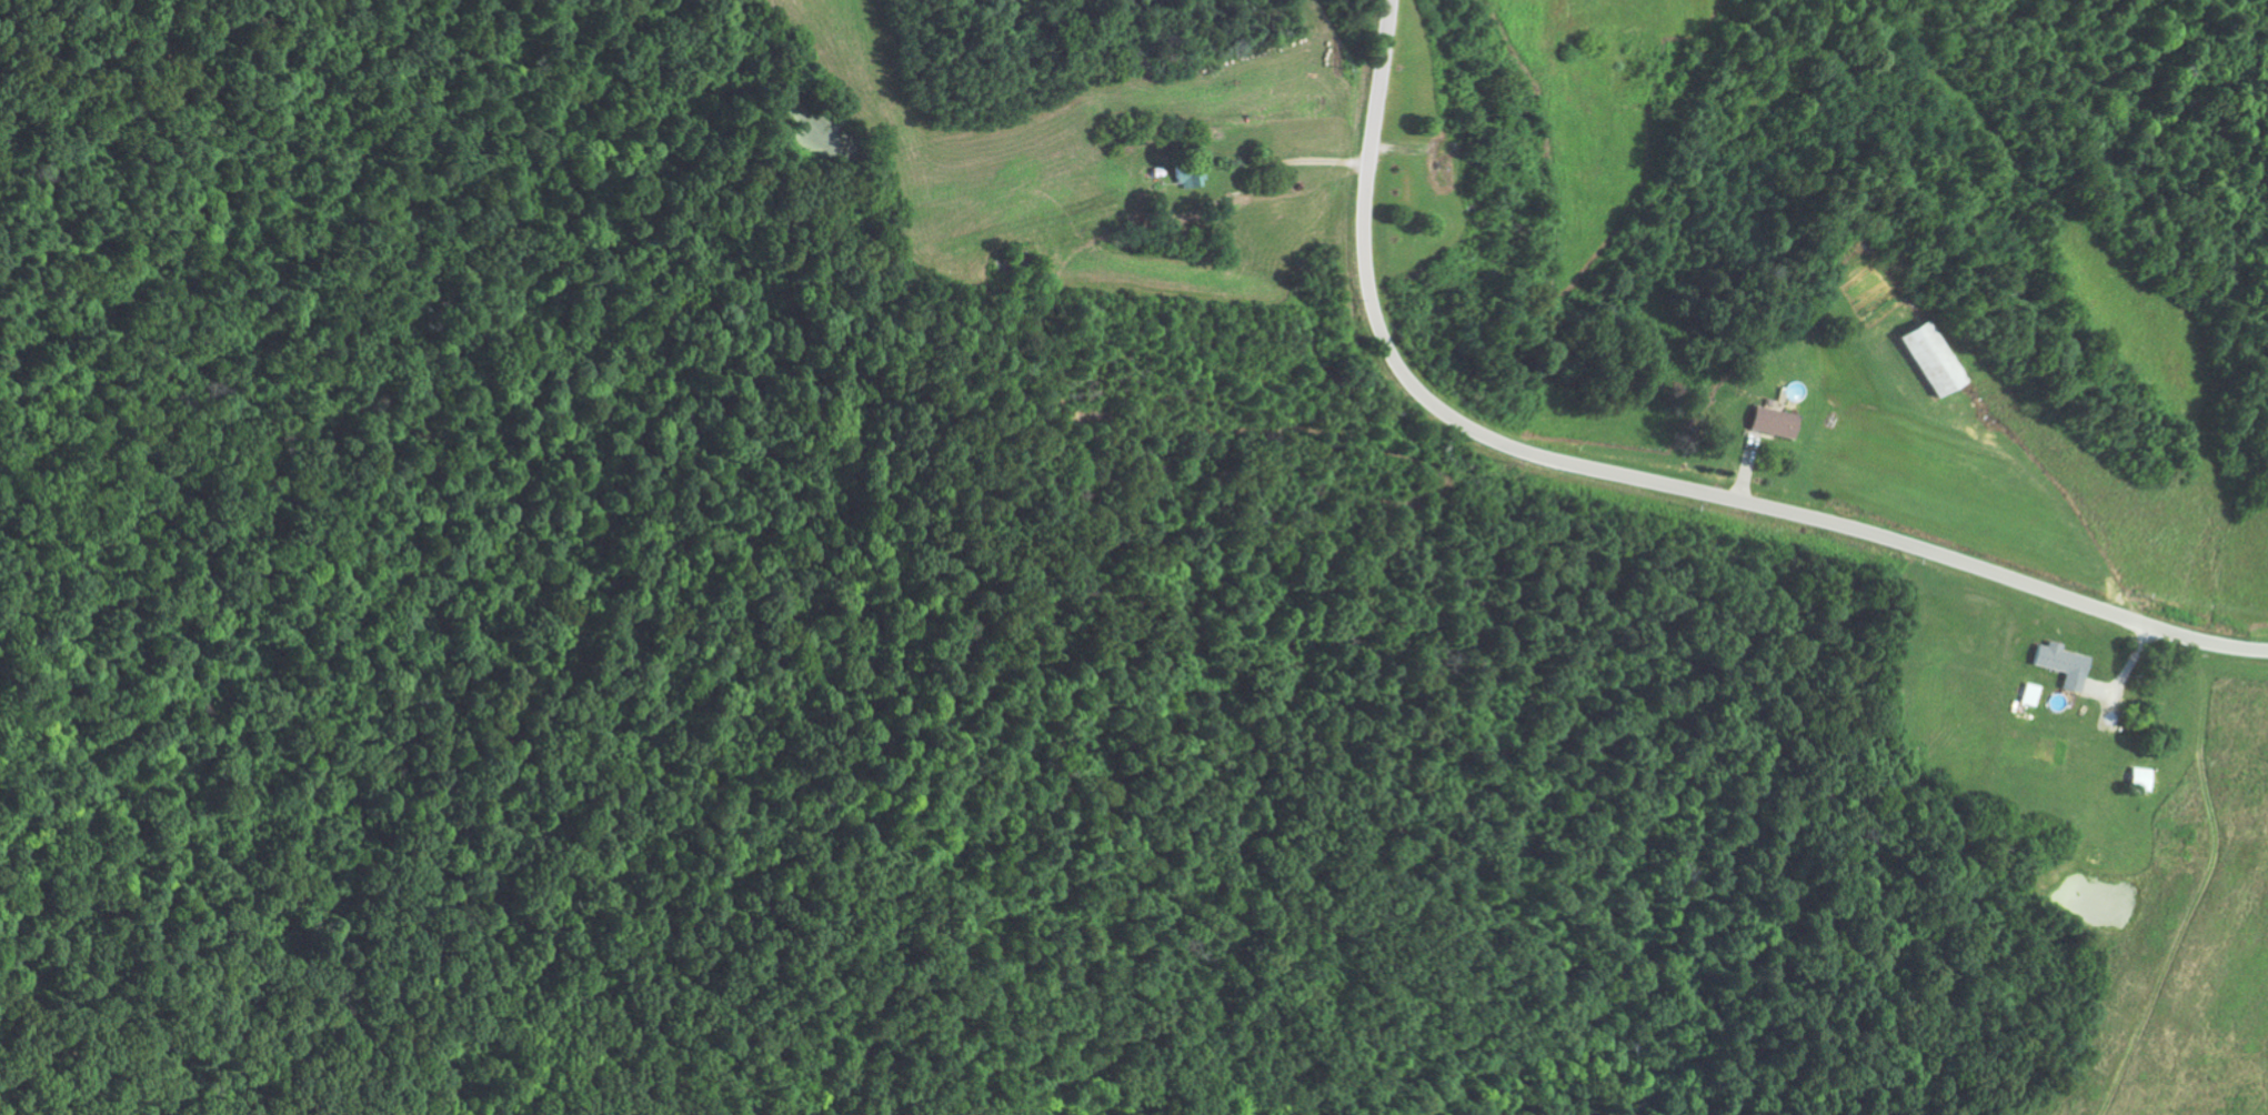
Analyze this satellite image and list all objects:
building: (1929, 359)
building: (1775, 422)
road: (1643, 478)
building: (2065, 664)
building: (2033, 694)
building: (2144, 779)

